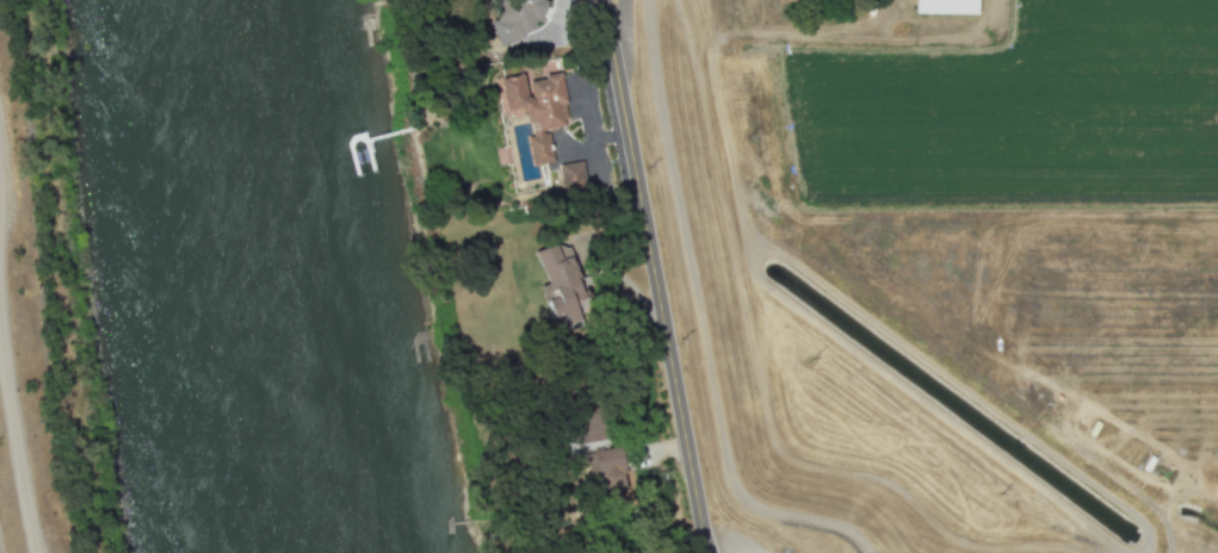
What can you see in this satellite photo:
building: (944, 6)
road: (616, 15)
building: (536, 108)
building: (571, 176)
river: (285, 276)
road: (656, 276)
building: (559, 284)
road: (16, 445)
building: (607, 467)

